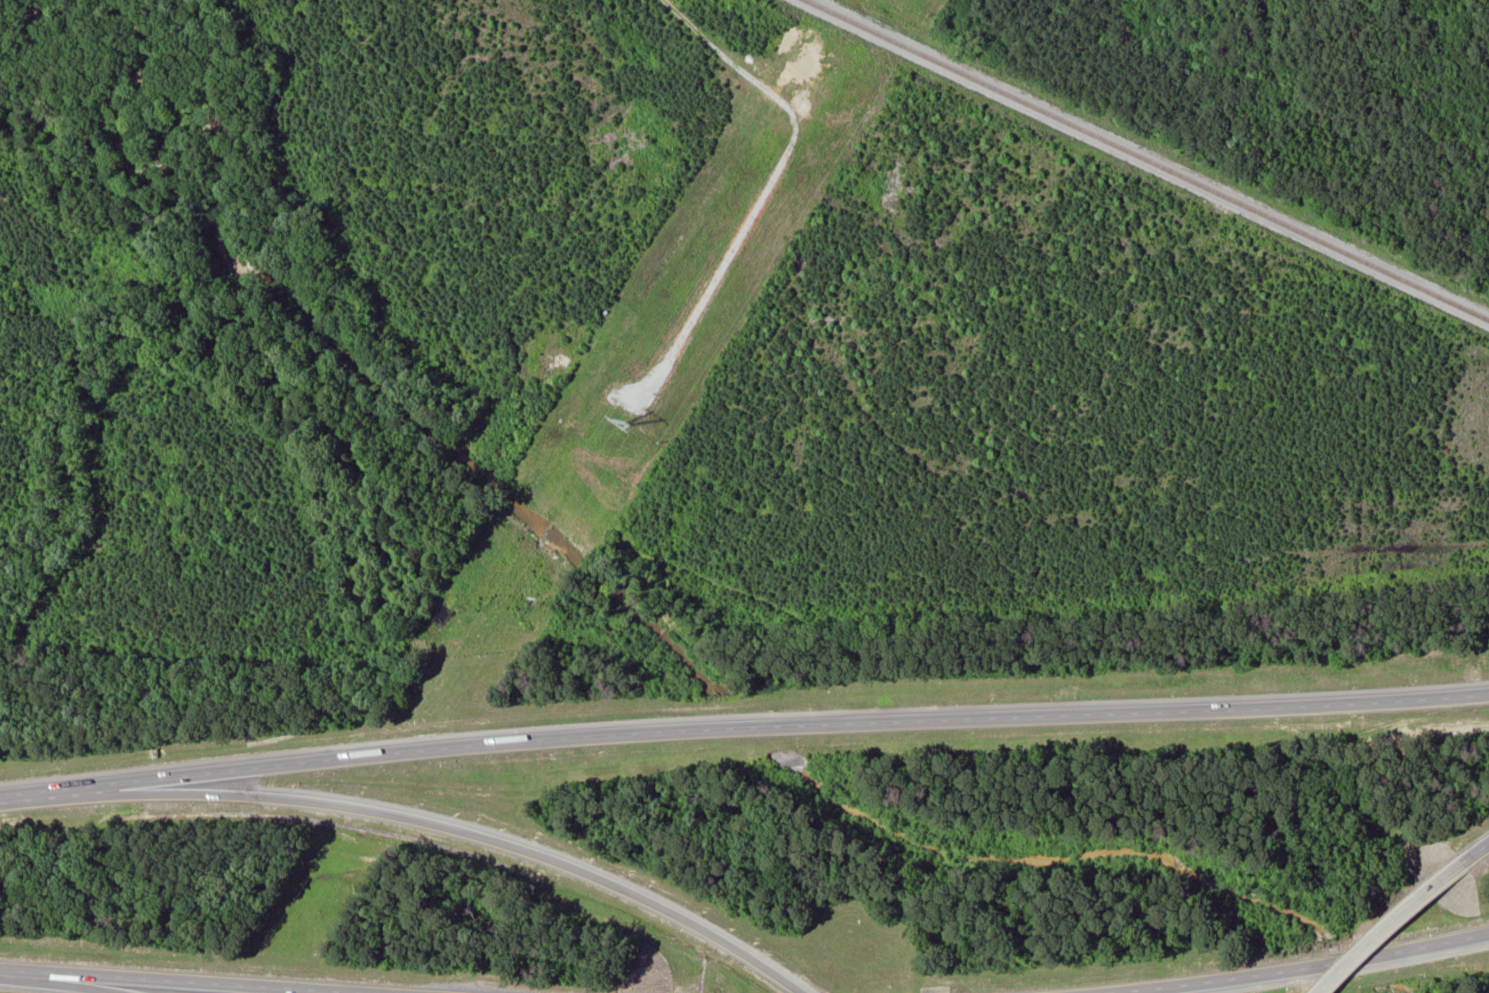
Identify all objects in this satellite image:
railway: (1147, 159)
power tower: (628, 423)
road: (768, 725)
road: (26, 797)
road: (444, 827)
road: (1477, 853)
road: (1392, 925)
road: (1307, 967)
road: (183, 982)
road: (55, 985)

